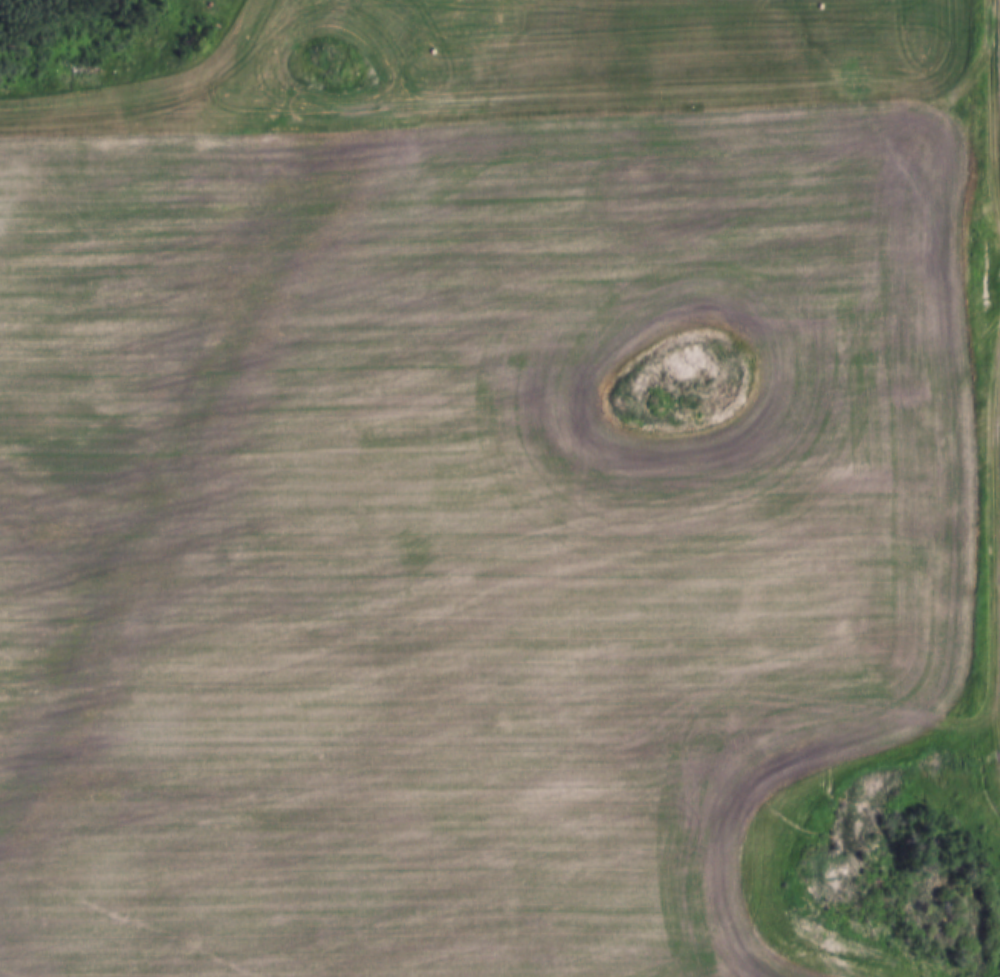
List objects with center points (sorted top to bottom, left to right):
road: (997, 187)

